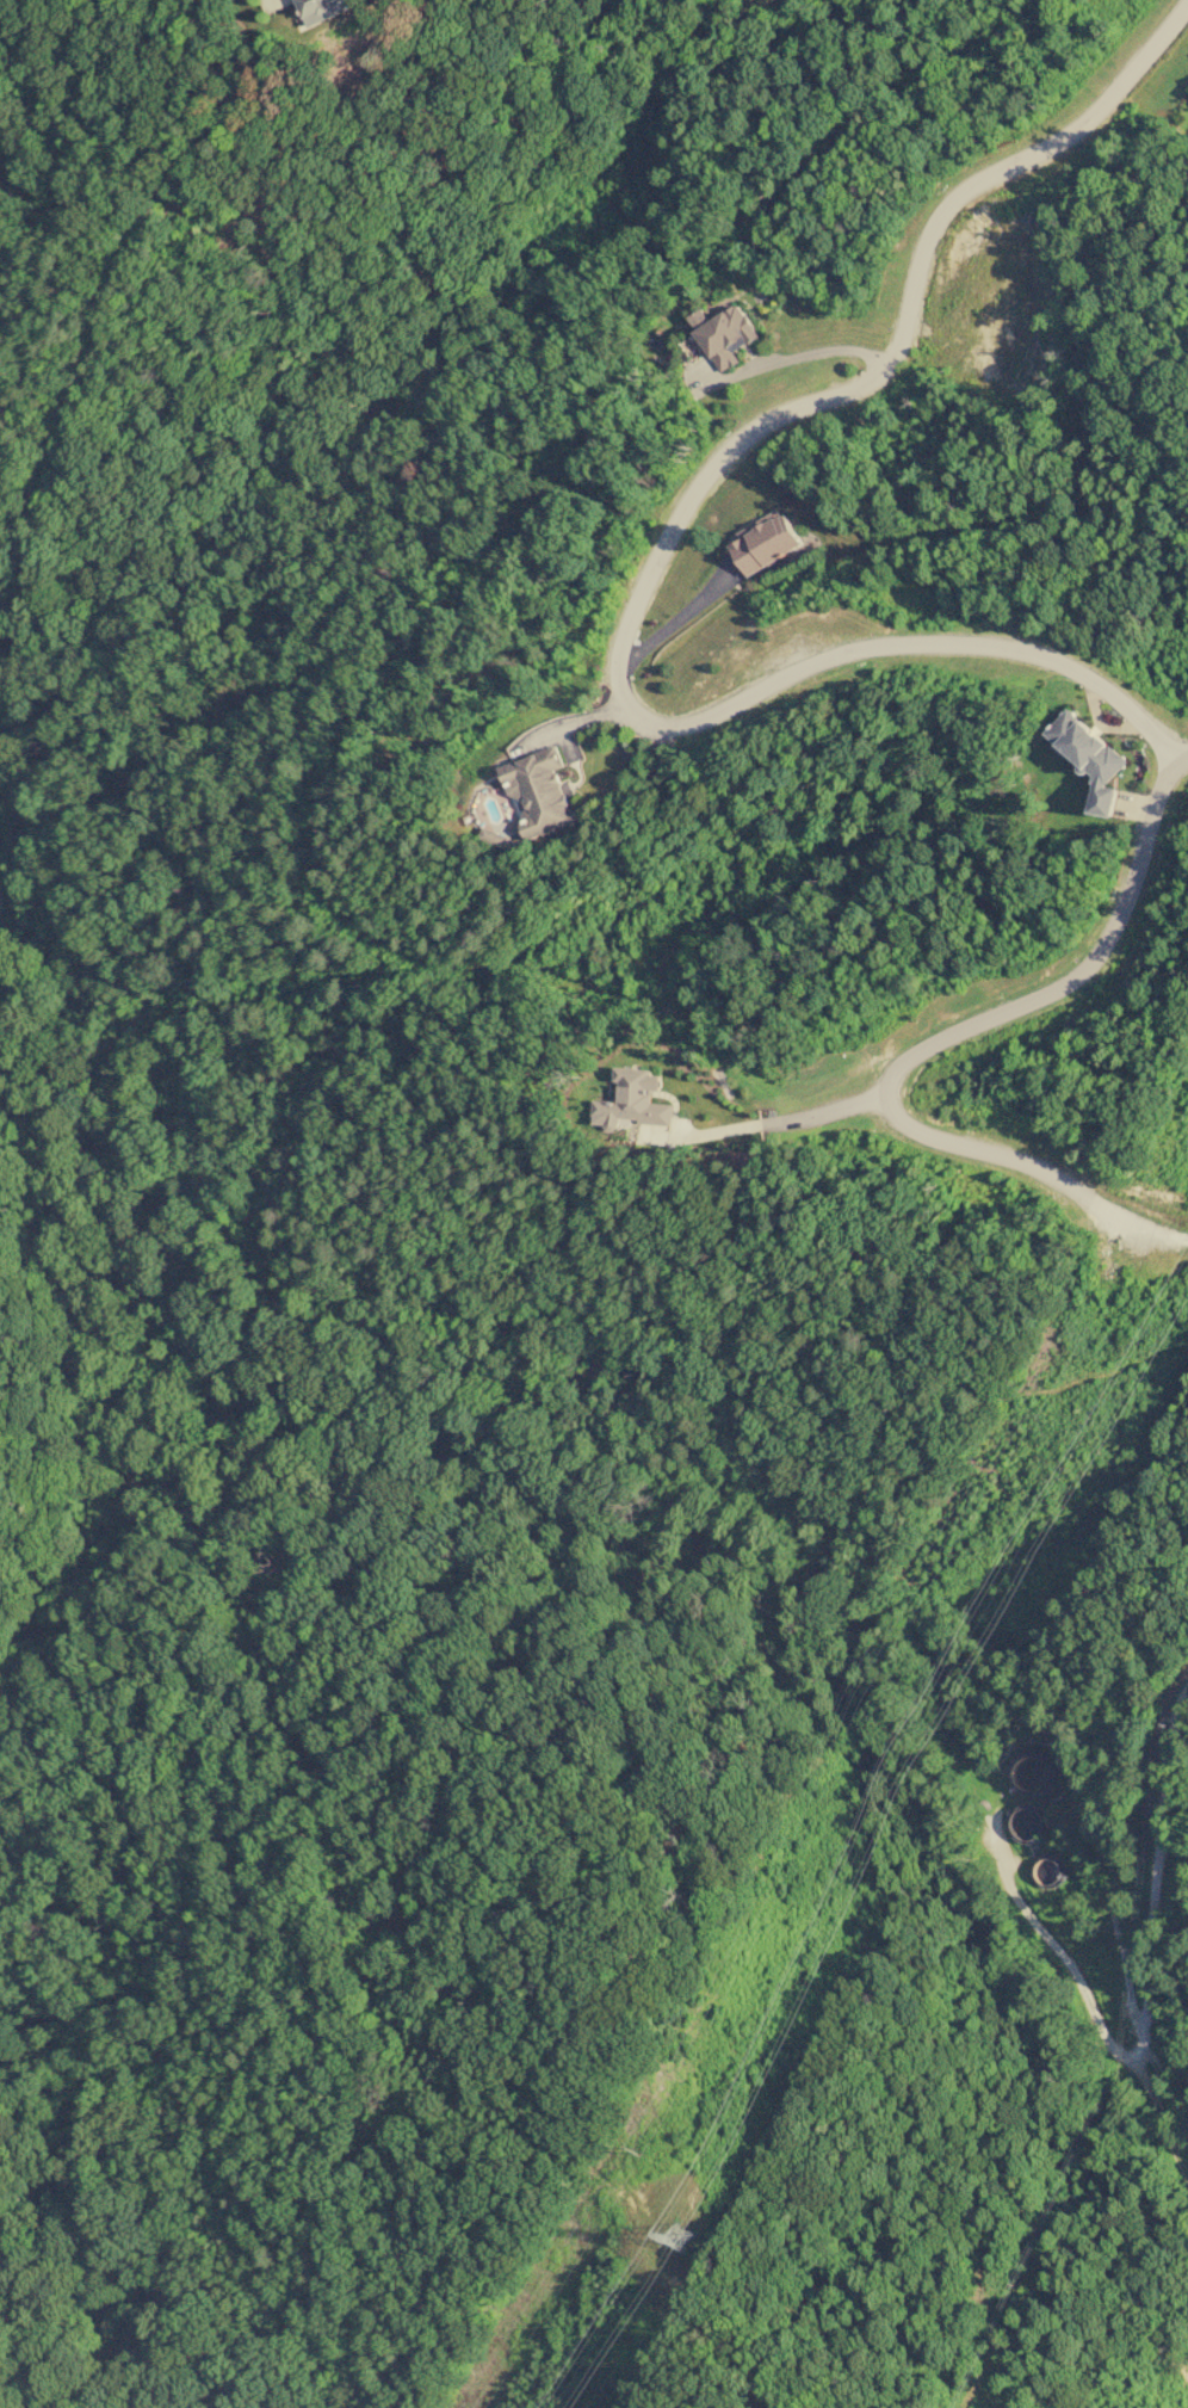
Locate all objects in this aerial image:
building: (321, 10)
building: (724, 334)
building: (765, 542)
road: (663, 557)
building: (1090, 758)
building: (539, 791)
building: (495, 838)
road: (940, 1042)
building: (632, 1100)
landfill: (1171, 1660)
building: (1028, 1820)
landfill: (1070, 1925)
power tower: (677, 2235)
landfill: (1155, 2401)

